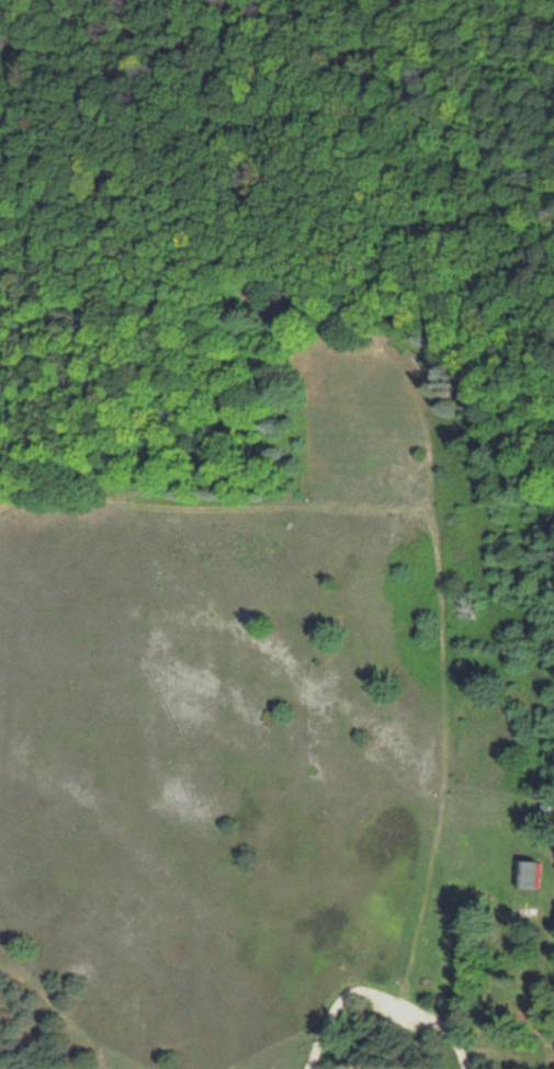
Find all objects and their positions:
road: (404, 254)
road: (214, 265)
road: (15, 473)
road: (433, 539)
building: (524, 872)
road: (374, 1002)
parking lot: (389, 1011)
road: (160, 1060)

